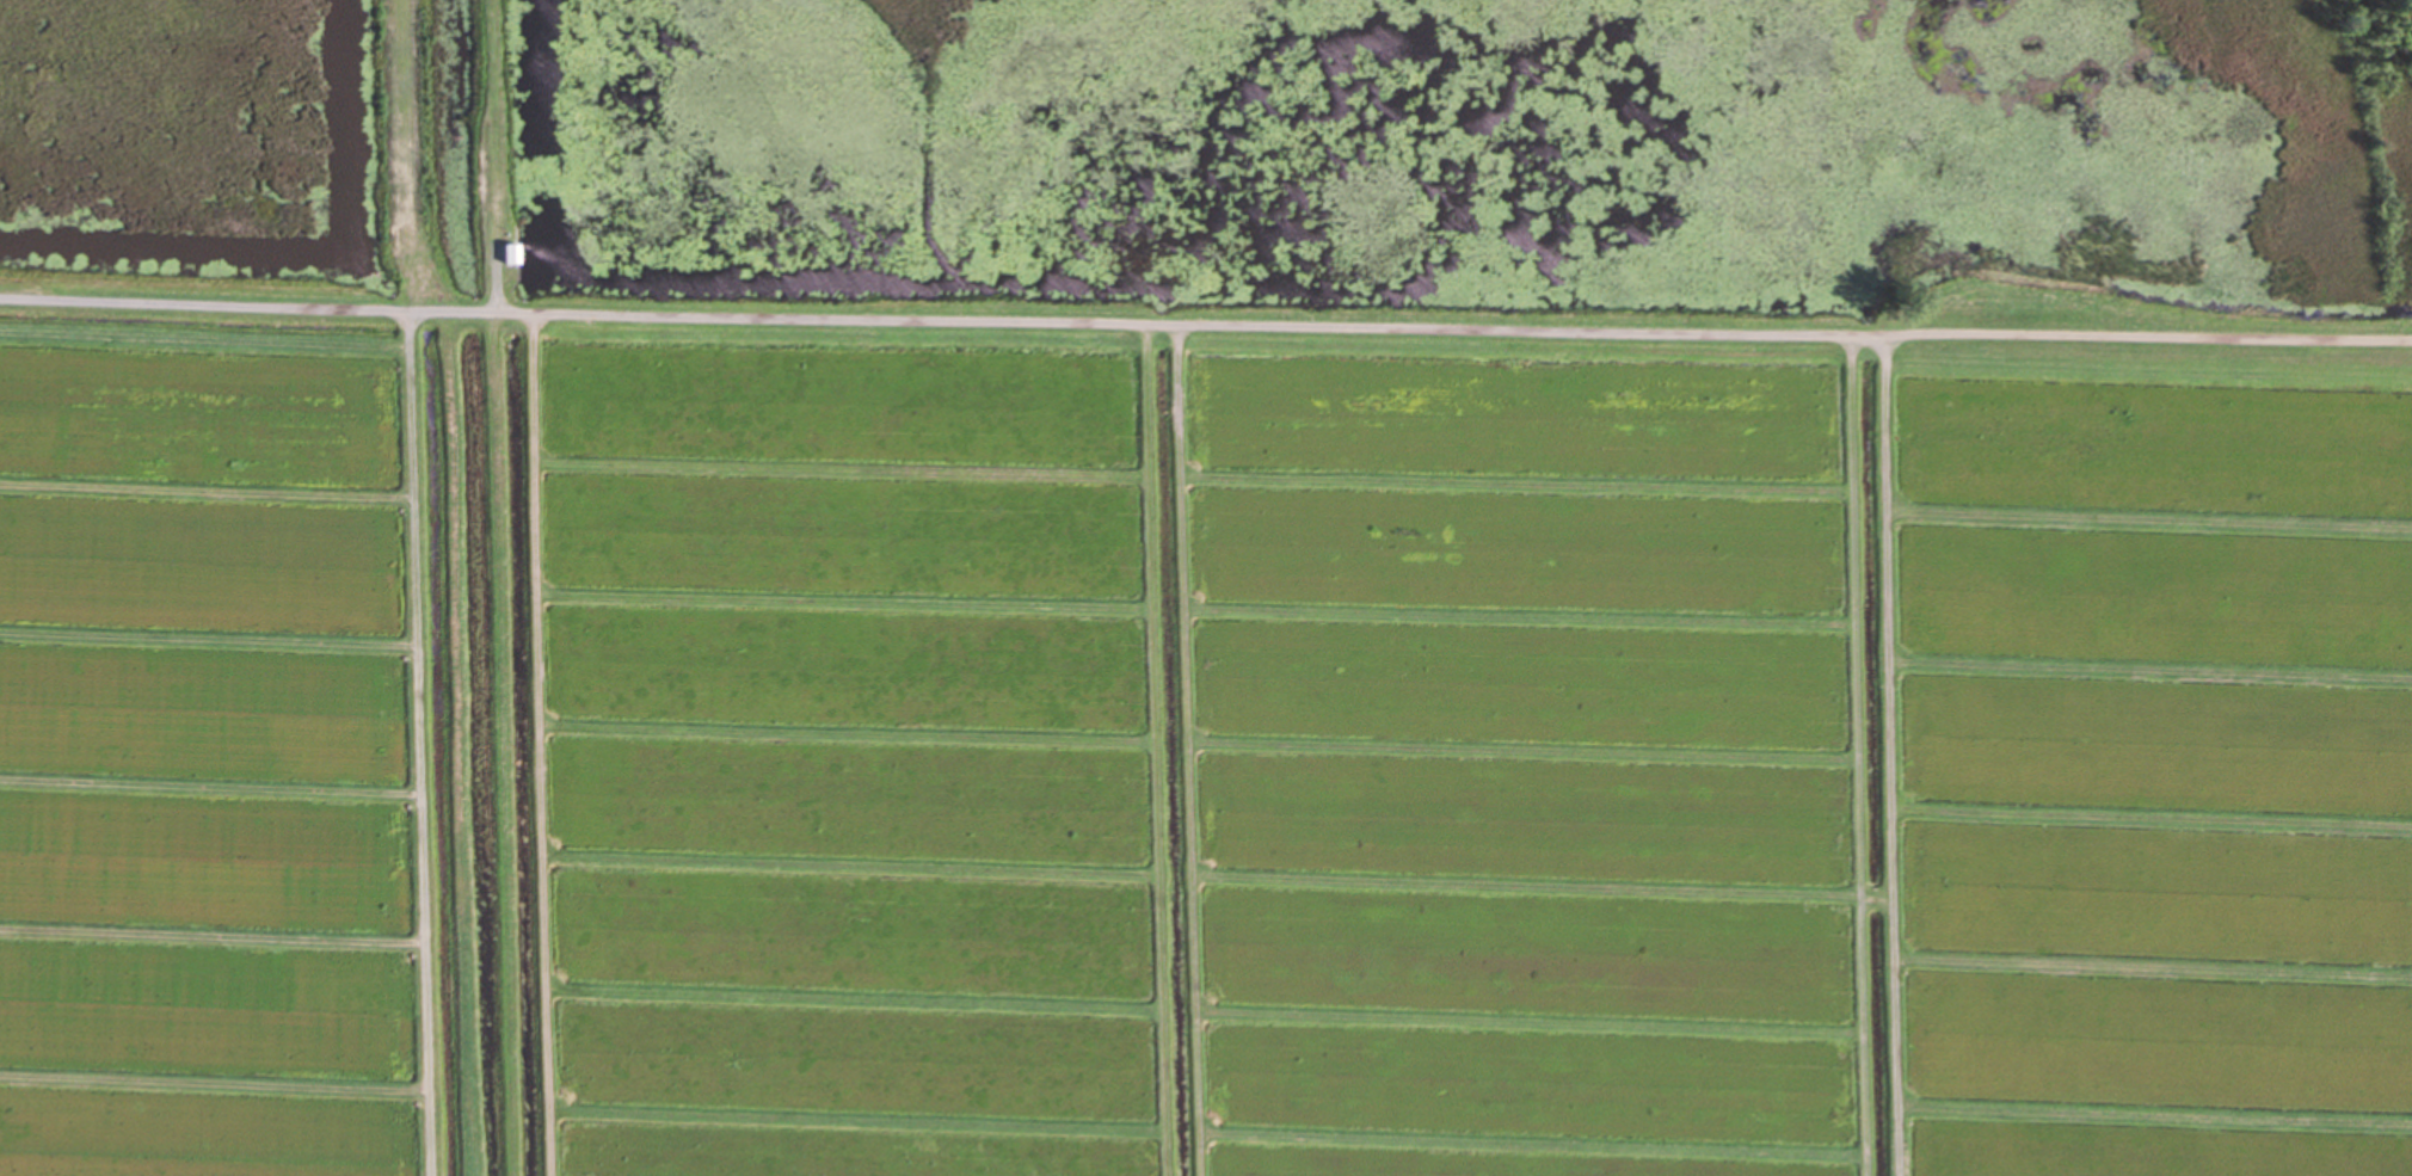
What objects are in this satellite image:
building: (506, 254)
crop: (1196, 739)

